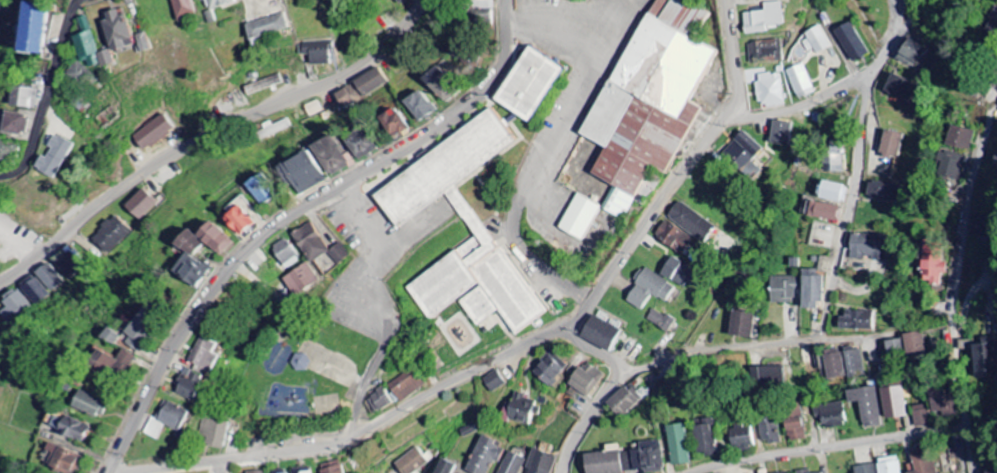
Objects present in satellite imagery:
building: (979, 0)
building: (399, 1)
building: (216, 4)
building: (183, 9)
building: (484, 9)
building: (763, 18)
building: (31, 28)
building: (265, 28)
building: (117, 31)
building: (815, 40)
building: (143, 42)
building: (850, 42)
building: (92, 52)
building: (317, 52)
building: (765, 52)
building: (911, 54)
building: (77, 72)
building: (800, 81)
building: (261, 85)
building: (439, 85)
building: (526, 85)
building: (899, 87)
building: (359, 89)
building: (769, 89)
road: (47, 94)
building: (24, 98)
building: (417, 106)
road: (794, 106)
building: (647, 110)
building: (1, 122)
building: (16, 124)
building: (391, 124)
building: (271, 130)
building: (153, 133)
building: (780, 133)
road: (210, 135)
building: (961, 138)
building: (358, 145)
building: (890, 145)
building: (9, 152)
building: (743, 155)
building: (326, 156)
building: (54, 157)
building: (833, 159)
building: (952, 166)
road: (856, 171)
building: (298, 174)
building: (257, 191)
building: (832, 191)
building: (882, 191)
building: (140, 205)
building: (400, 212)
building: (825, 212)
road: (296, 213)
building: (235, 217)
building: (579, 218)
building: (688, 220)
building: (979, 225)
building: (111, 235)
building: (672, 238)
building: (210, 239)
road: (629, 244)
building: (314, 246)
building: (863, 247)
building: (281, 254)
building: (186, 261)
building: (933, 261)
building: (67, 263)
building: (680, 272)
building: (48, 277)
building: (298, 280)
road: (959, 280)
building: (649, 289)
building: (784, 290)
building: (811, 290)
building: (34, 291)
building: (15, 307)
building: (660, 320)
building: (856, 321)
building: (742, 325)
building: (134, 328)
building: (600, 333)
building: (105, 337)
building: (917, 347)
building: (896, 348)
road: (706, 350)
building: (199, 355)
building: (985, 359)
building: (854, 362)
building: (834, 364)
building: (107, 366)
building: (549, 369)
building: (586, 380)
building: (493, 381)
building: (183, 385)
building: (405, 386)
building: (379, 401)
building: (623, 401)
building: (944, 402)
building: (894, 403)
building: (83, 405)
building: (866, 406)
building: (519, 410)
building: (831, 416)
building: (922, 416)
building: (162, 420)
building: (795, 425)
building: (63, 428)
building: (769, 430)
road: (363, 432)
building: (212, 433)
building: (708, 438)
building: (742, 439)
building: (679, 445)
road: (827, 446)
building: (485, 455)
building: (644, 458)
building: (924, 460)
building: (58, 461)
building: (411, 462)
building: (541, 463)
building: (512, 464)
building: (891, 465)
building: (444, 467)
building: (331, 468)
building: (866, 469)
building: (804, 471)
building: (259, 472)

